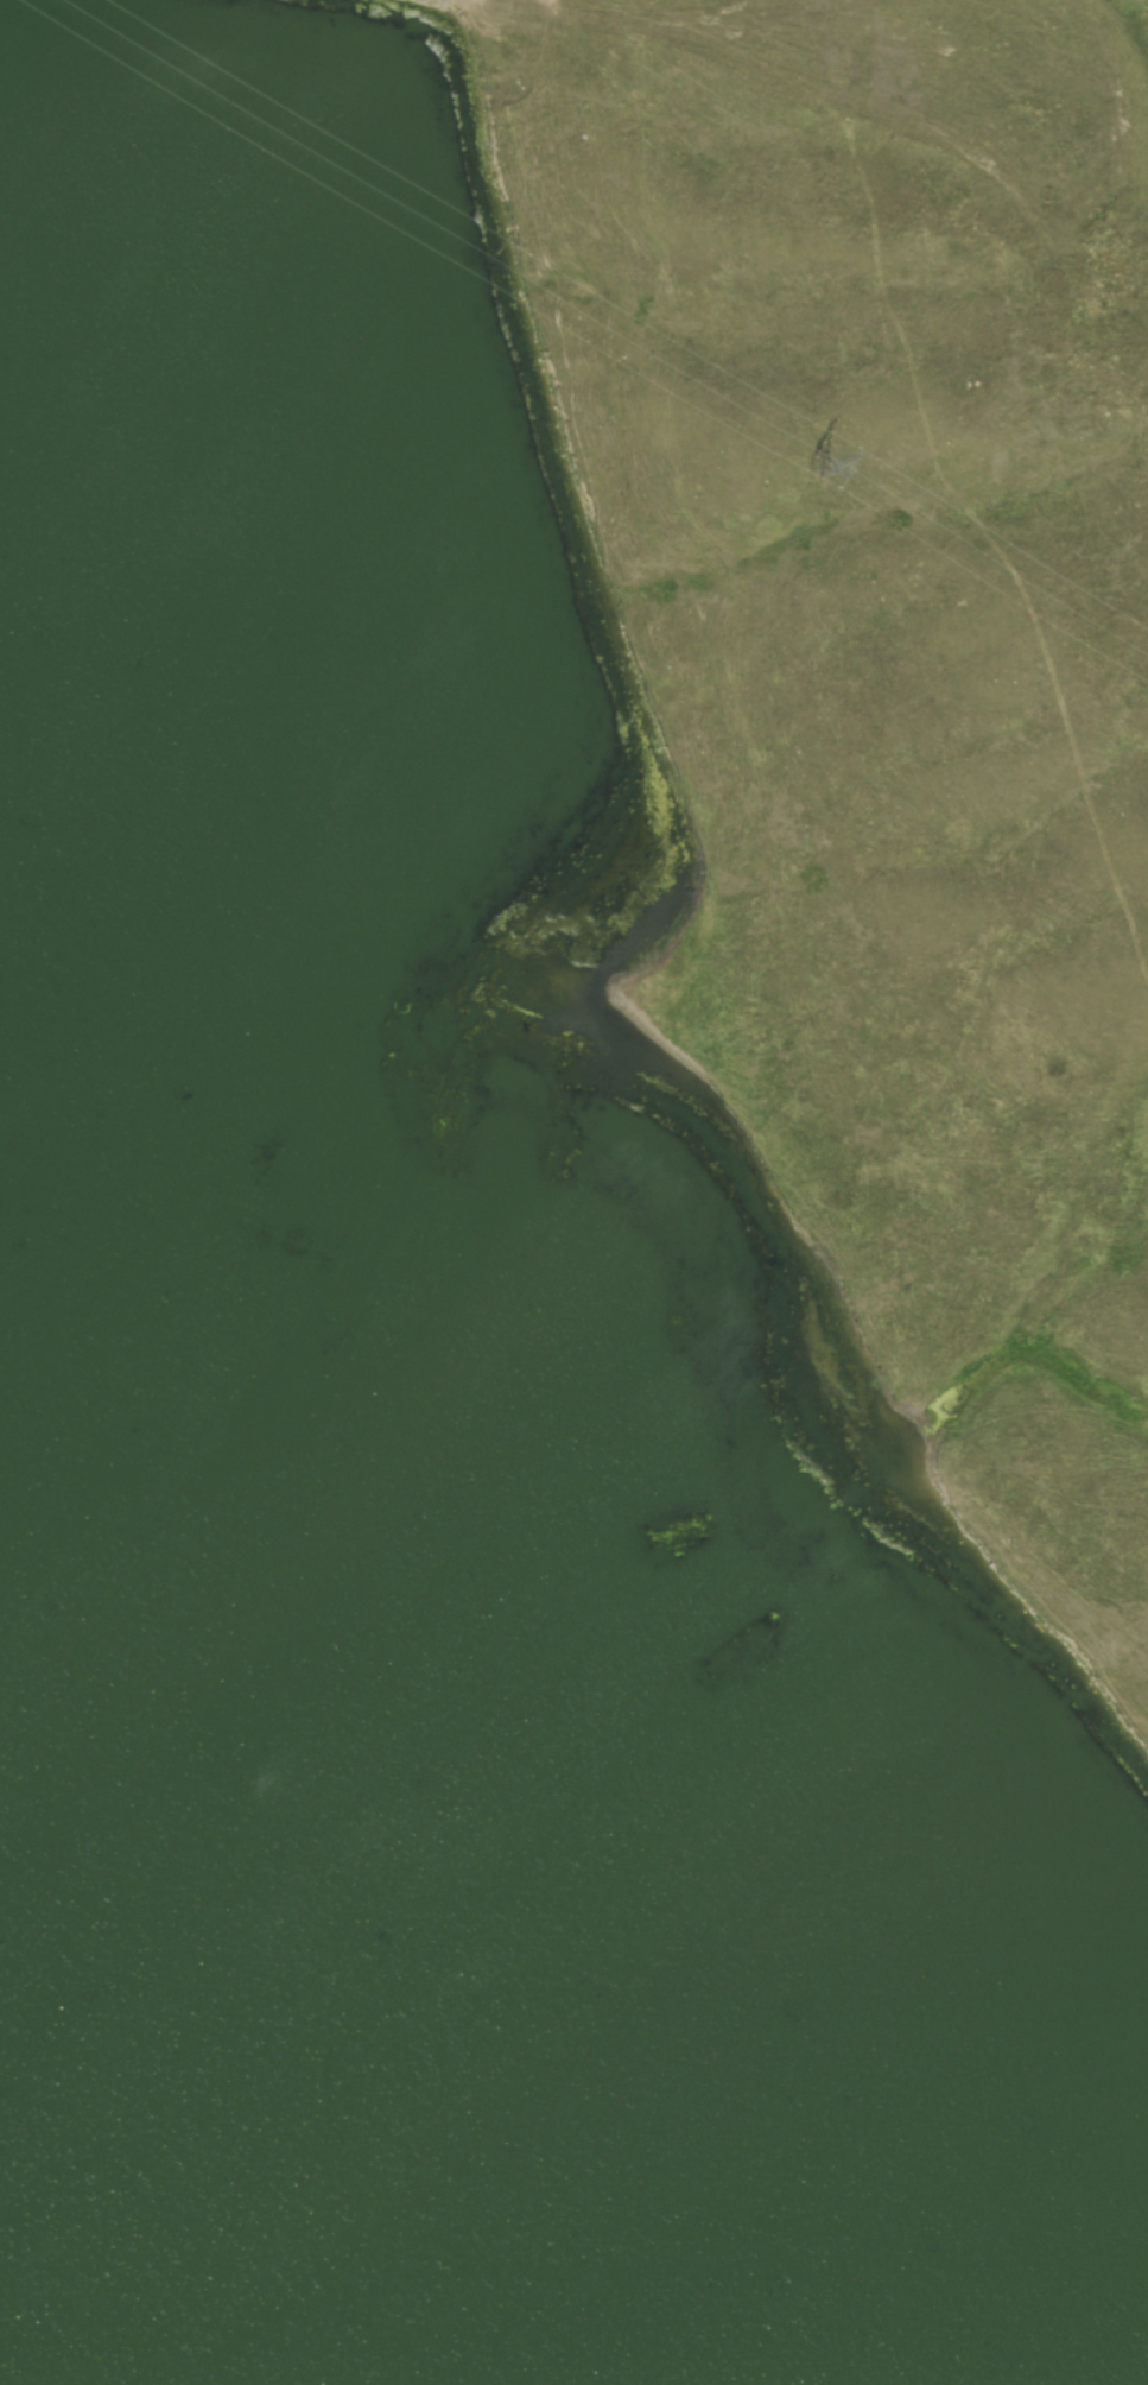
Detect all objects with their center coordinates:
power tower: (817, 445)

